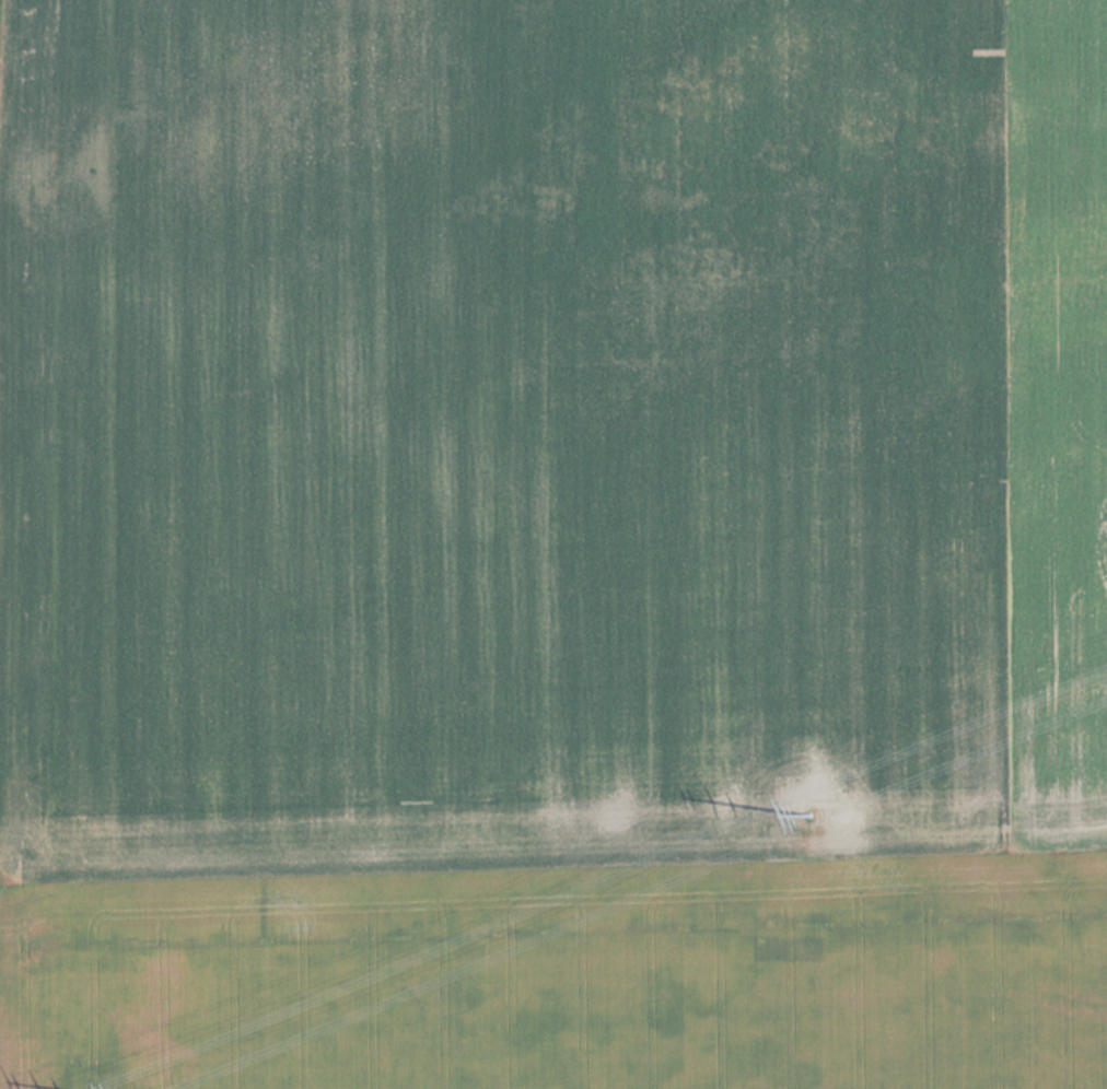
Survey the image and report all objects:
power tower: (814, 816)

